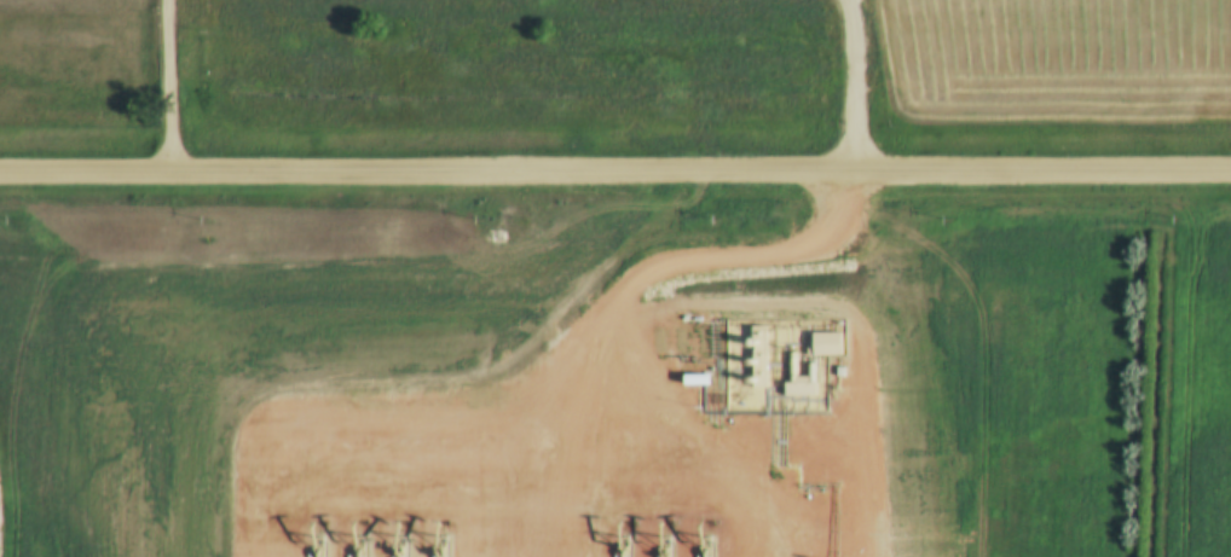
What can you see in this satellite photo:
road: (171, 83)
road: (614, 169)

